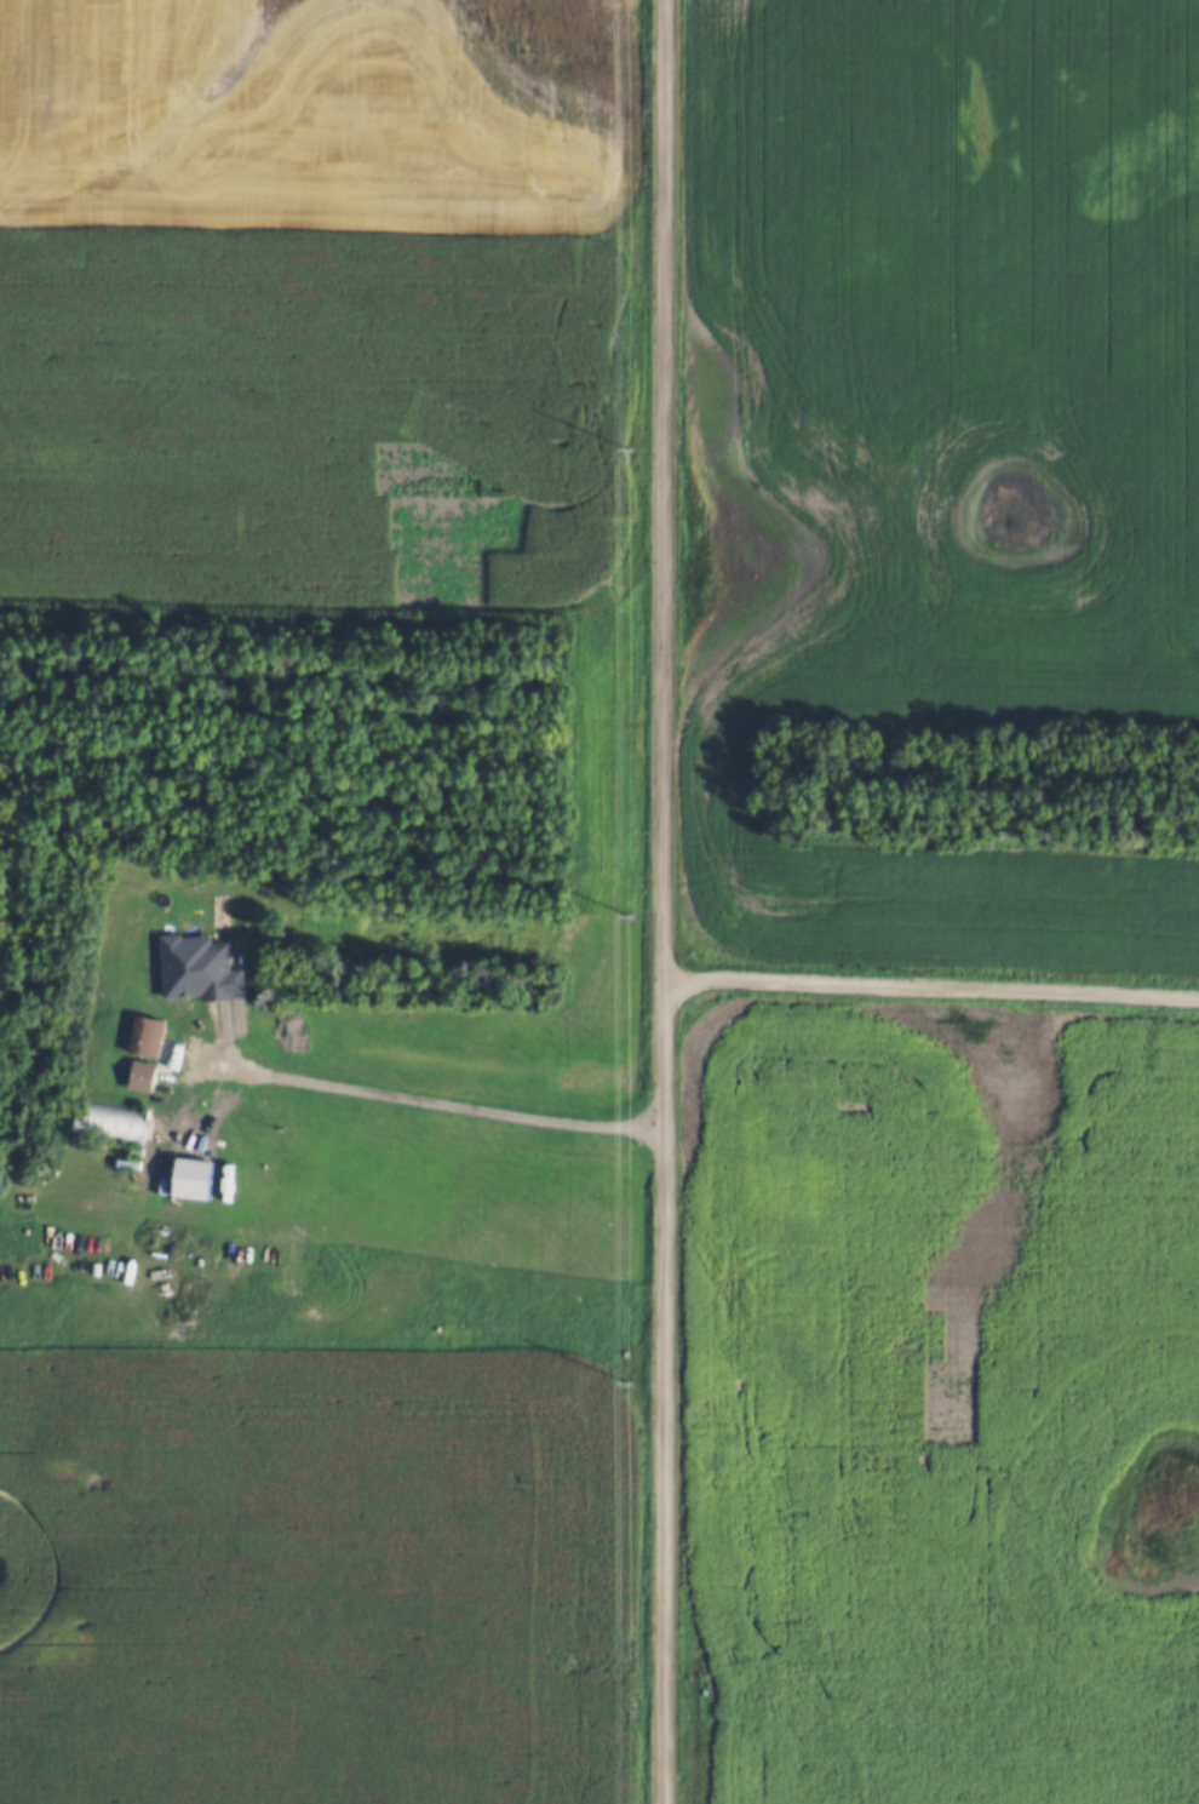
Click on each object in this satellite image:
road: (661, 901)
building: (197, 964)
road: (930, 991)
building: (143, 1032)
building: (138, 1071)
road: (420, 1105)
building: (107, 1118)
building: (189, 1175)

